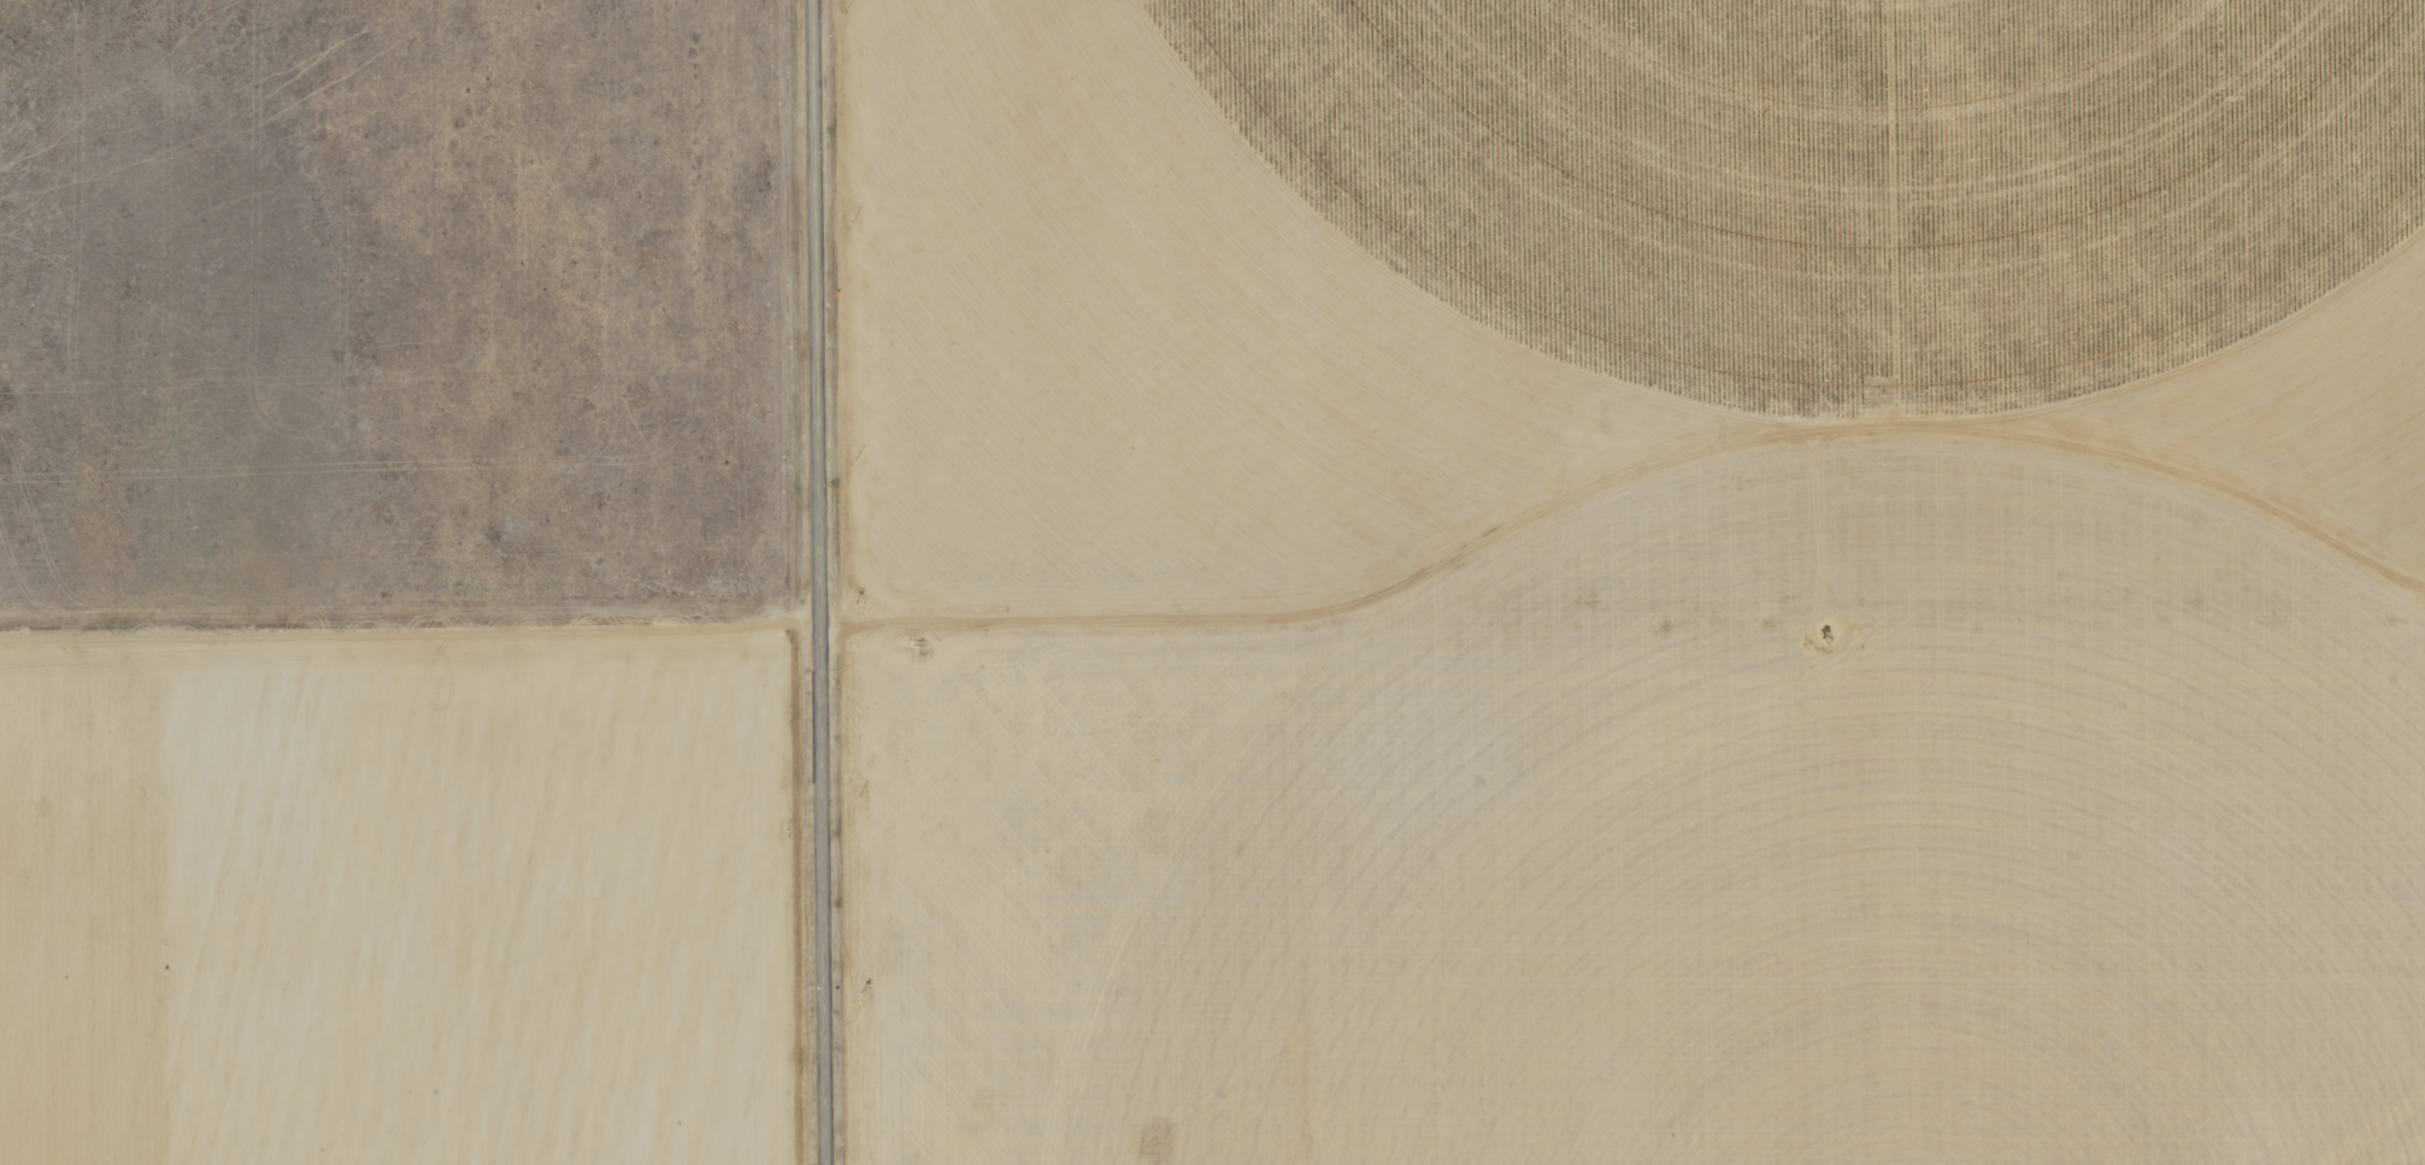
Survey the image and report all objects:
road: (819, 582)

